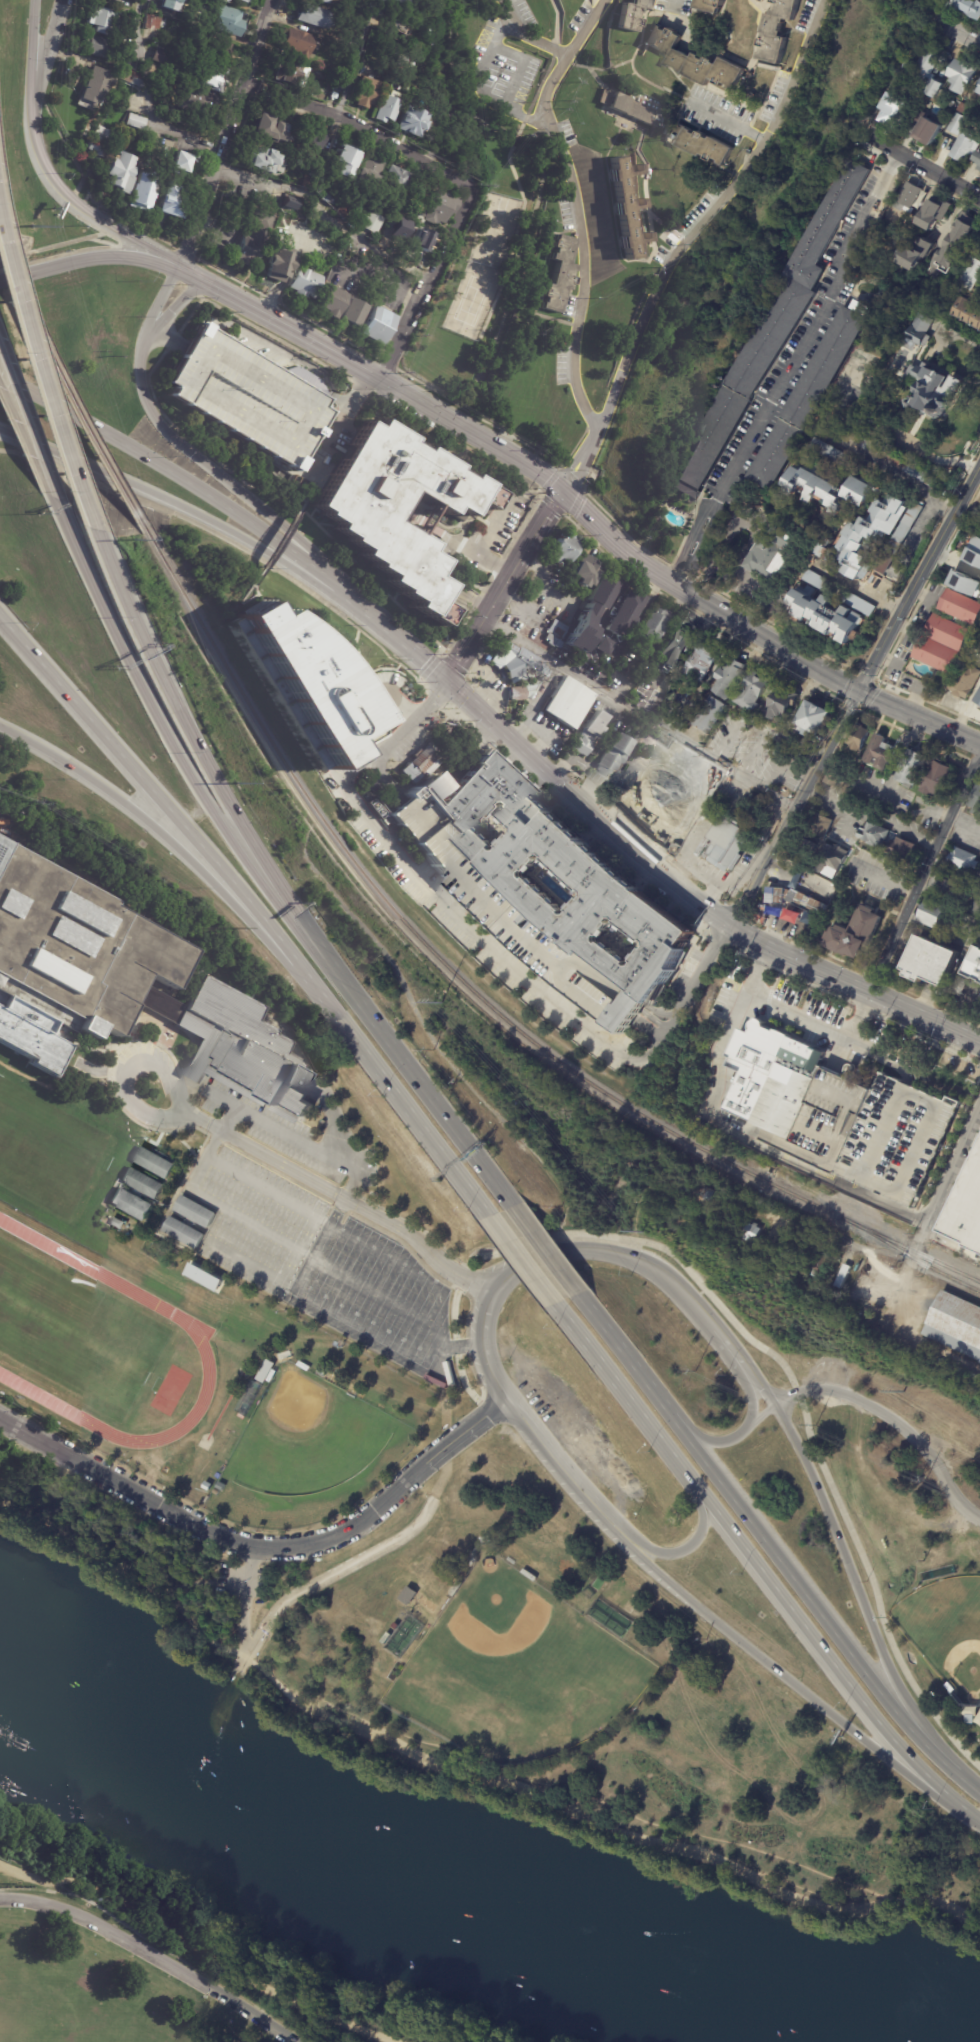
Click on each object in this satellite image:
building: (116, 1)
building: (135, 1)
building: (223, 1)
building: (245, 1)
building: (327, 2)
building: (393, 2)
building: (172, 5)
building: (710, 6)
building: (968, 7)
building: (631, 14)
building: (309, 17)
building: (228, 21)
building: (104, 22)
building: (154, 22)
building: (398, 25)
road: (958, 28)
building: (775, 31)
road: (526, 38)
road: (32, 41)
road: (51, 42)
building: (295, 43)
building: (351, 43)
building: (99, 48)
building: (127, 49)
building: (214, 49)
building: (162, 55)
building: (694, 60)
building: (928, 63)
building: (940, 65)
road: (521, 68)
road: (549, 68)
building: (961, 74)
building: (289, 75)
building: (209, 77)
road: (483, 83)
building: (107, 84)
building: (337, 86)
building: (935, 87)
building: (978, 88)
building: (364, 93)
road: (149, 97)
road: (441, 97)
road: (345, 98)
building: (951, 102)
building: (201, 104)
building: (629, 108)
building: (894, 110)
building: (936, 110)
building: (384, 111)
building: (961, 113)
road: (728, 120)
building: (137, 123)
building: (408, 123)
building: (957, 124)
building: (926, 127)
road: (361, 128)
building: (271, 130)
road: (225, 133)
building: (314, 137)
road: (516, 141)
building: (703, 144)
building: (99, 145)
building: (963, 148)
building: (977, 158)
building: (340, 161)
building: (268, 162)
building: (184, 164)
road: (924, 165)
building: (363, 172)
building: (120, 174)
building: (391, 179)
building: (143, 195)
building: (327, 195)
building: (908, 197)
building: (393, 198)
road: (70, 200)
building: (287, 202)
building: (172, 206)
building: (626, 207)
building: (434, 208)
building: (339, 209)
road: (578, 209)
building: (933, 212)
road: (324, 215)
road: (709, 216)
building: (637, 220)
building: (370, 222)
park: (498, 232)
building: (254, 241)
road: (107, 242)
road: (516, 243)
building: (956, 243)
road: (60, 249)
building: (414, 251)
building: (915, 253)
road: (59, 256)
road: (89, 258)
building: (279, 266)
building: (969, 273)
building: (559, 274)
building: (304, 284)
road: (379, 284)
road: (426, 285)
park: (474, 301)
building: (332, 304)
building: (860, 305)
road: (175, 308)
building: (968, 312)
building: (352, 316)
road: (273, 321)
building: (377, 327)
building: (935, 331)
building: (911, 333)
road: (159, 336)
building: (767, 336)
road: (276, 338)
road: (287, 353)
road: (787, 367)
building: (933, 393)
building: (243, 394)
parking lot: (243, 394)
railway: (68, 398)
road: (411, 398)
building: (806, 398)
road: (44, 402)
road: (344, 414)
road: (27, 431)
building: (544, 443)
road: (27, 448)
road: (255, 450)
building: (831, 453)
road: (934, 455)
road: (510, 456)
building: (887, 457)
road: (200, 459)
road: (579, 463)
road: (887, 468)
road: (190, 479)
road: (309, 481)
road: (264, 482)
building: (829, 489)
traffic signals: (562, 493)
road: (567, 498)
road: (189, 508)
building: (394, 508)
road: (563, 513)
parking lot: (507, 526)
building: (869, 536)
building: (899, 539)
road: (72, 542)
road: (277, 543)
building: (823, 545)
road: (230, 546)
building: (562, 550)
building: (973, 552)
building: (769, 554)
road: (489, 557)
parking lot: (469, 566)
building: (582, 571)
road: (918, 580)
building: (817, 582)
building: (965, 584)
road: (505, 586)
road: (857, 586)
road: (258, 597)
parking lot: (532, 599)
building: (857, 604)
road: (709, 606)
building: (960, 607)
building: (625, 613)
building: (825, 617)
building: (583, 618)
building: (653, 624)
road: (406, 643)
building: (941, 644)
building: (600, 647)
building: (633, 648)
building: (672, 650)
building: (972, 653)
building: (699, 662)
road: (457, 668)
building: (521, 673)
road: (491, 674)
traffic signals: (447, 678)
building: (727, 679)
building: (301, 681)
building: (941, 681)
building: (963, 682)
building: (750, 692)
traffic signals: (857, 693)
road: (839, 699)
building: (977, 699)
building: (568, 703)
building: (779, 704)
road: (639, 714)
building: (810, 720)
road: (918, 720)
building: (590, 734)
building: (856, 737)
building: (879, 753)
building: (613, 756)
road: (201, 757)
road: (977, 764)
building: (418, 766)
building: (912, 768)
building: (835, 777)
road: (386, 778)
building: (936, 780)
road: (196, 787)
building: (372, 787)
building: (975, 801)
road: (586, 804)
road: (793, 808)
road: (169, 812)
road: (869, 817)
building: (819, 823)
building: (886, 840)
building: (725, 844)
road: (177, 854)
building: (962, 860)
building: (833, 861)
road: (923, 871)
building: (556, 872)
road: (883, 880)
building: (947, 884)
building: (794, 902)
road: (685, 906)
building: (976, 908)
building: (934, 915)
building: (855, 934)
road: (482, 940)
railway: (427, 949)
road: (761, 953)
building: (72, 959)
building: (929, 962)
building: (974, 965)
road: (854, 984)
road: (862, 1000)
road: (810, 1017)
road: (432, 1042)
building: (243, 1044)
road: (81, 1045)
road: (112, 1076)
building: (771, 1078)
building: (731, 1088)
road: (421, 1089)
road: (184, 1110)
road: (409, 1114)
road: (193, 1126)
road: (279, 1131)
road: (747, 1136)
building: (898, 1141)
park: (44, 1144)
road: (211, 1144)
building: (753, 1146)
building: (154, 1162)
building: (143, 1182)
road: (946, 1185)
road: (187, 1187)
building: (692, 1192)
building: (132, 1203)
building: (196, 1212)
building: (969, 1213)
road: (366, 1214)
building: (717, 1223)
building: (944, 1231)
building: (185, 1232)
road: (819, 1232)
building: (749, 1234)
railway: (876, 1235)
road: (581, 1237)
parking lot: (309, 1243)
road: (318, 1243)
road: (545, 1250)
railway: (910, 1250)
building: (795, 1251)
road: (521, 1262)
road: (636, 1264)
building: (819, 1267)
road: (513, 1272)
railway: (945, 1274)
building: (203, 1277)
building: (842, 1277)
road: (905, 1282)
building: (850, 1307)
road: (350, 1317)
building: (955, 1325)
track: (195, 1329)
park: (73, 1334)
road: (486, 1337)
road: (730, 1353)
road: (626, 1360)
building: (302, 1367)
building: (266, 1371)
building: (272, 1376)
road: (761, 1391)
road: (624, 1394)
building: (249, 1397)
road: (496, 1404)
road: (757, 1420)
building: (236, 1421)
road: (893, 1422)
park: (304, 1437)
road: (735, 1437)
road: (554, 1457)
building: (211, 1476)
building: (217, 1492)
road: (250, 1545)
road: (684, 1549)
road: (110, 1557)
road: (248, 1570)
building: (528, 1576)
parking lot: (242, 1580)
road: (203, 1585)
building: (454, 1589)
road: (873, 1589)
building: (408, 1594)
park: (642, 1595)
road: (861, 1604)
road: (821, 1616)
building: (394, 1627)
park: (945, 1631)
road: (244, 1639)
building: (384, 1639)
road: (827, 1658)
road: (252, 1665)
park: (511, 1666)
road: (793, 1684)
building: (948, 1688)
building: (969, 1714)
road: (596, 1820)
river: (344, 1866)
railway: (42, 1876)
railway: (42, 1890)
road: (913, 1898)
road: (951, 1910)
road: (199, 1948)
road: (151, 1955)
park: (169, 1961)
railway: (198, 1970)
park: (97, 1990)
road: (318, 2027)

